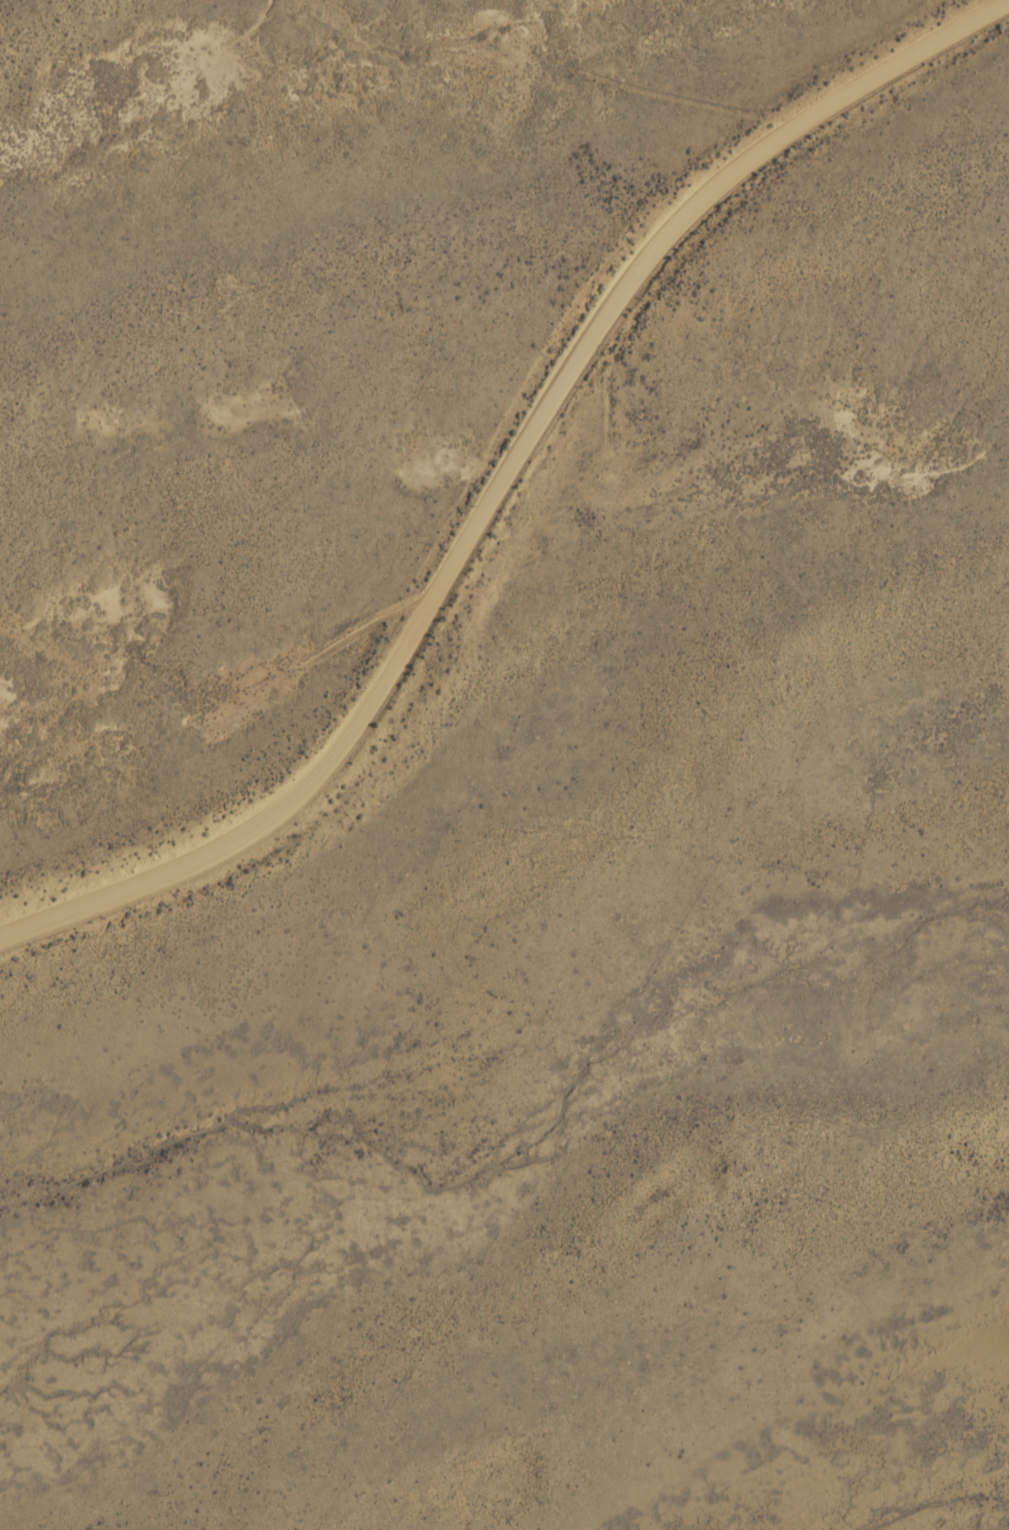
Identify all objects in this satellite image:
road: (504, 481)
river: (1005, 1527)

